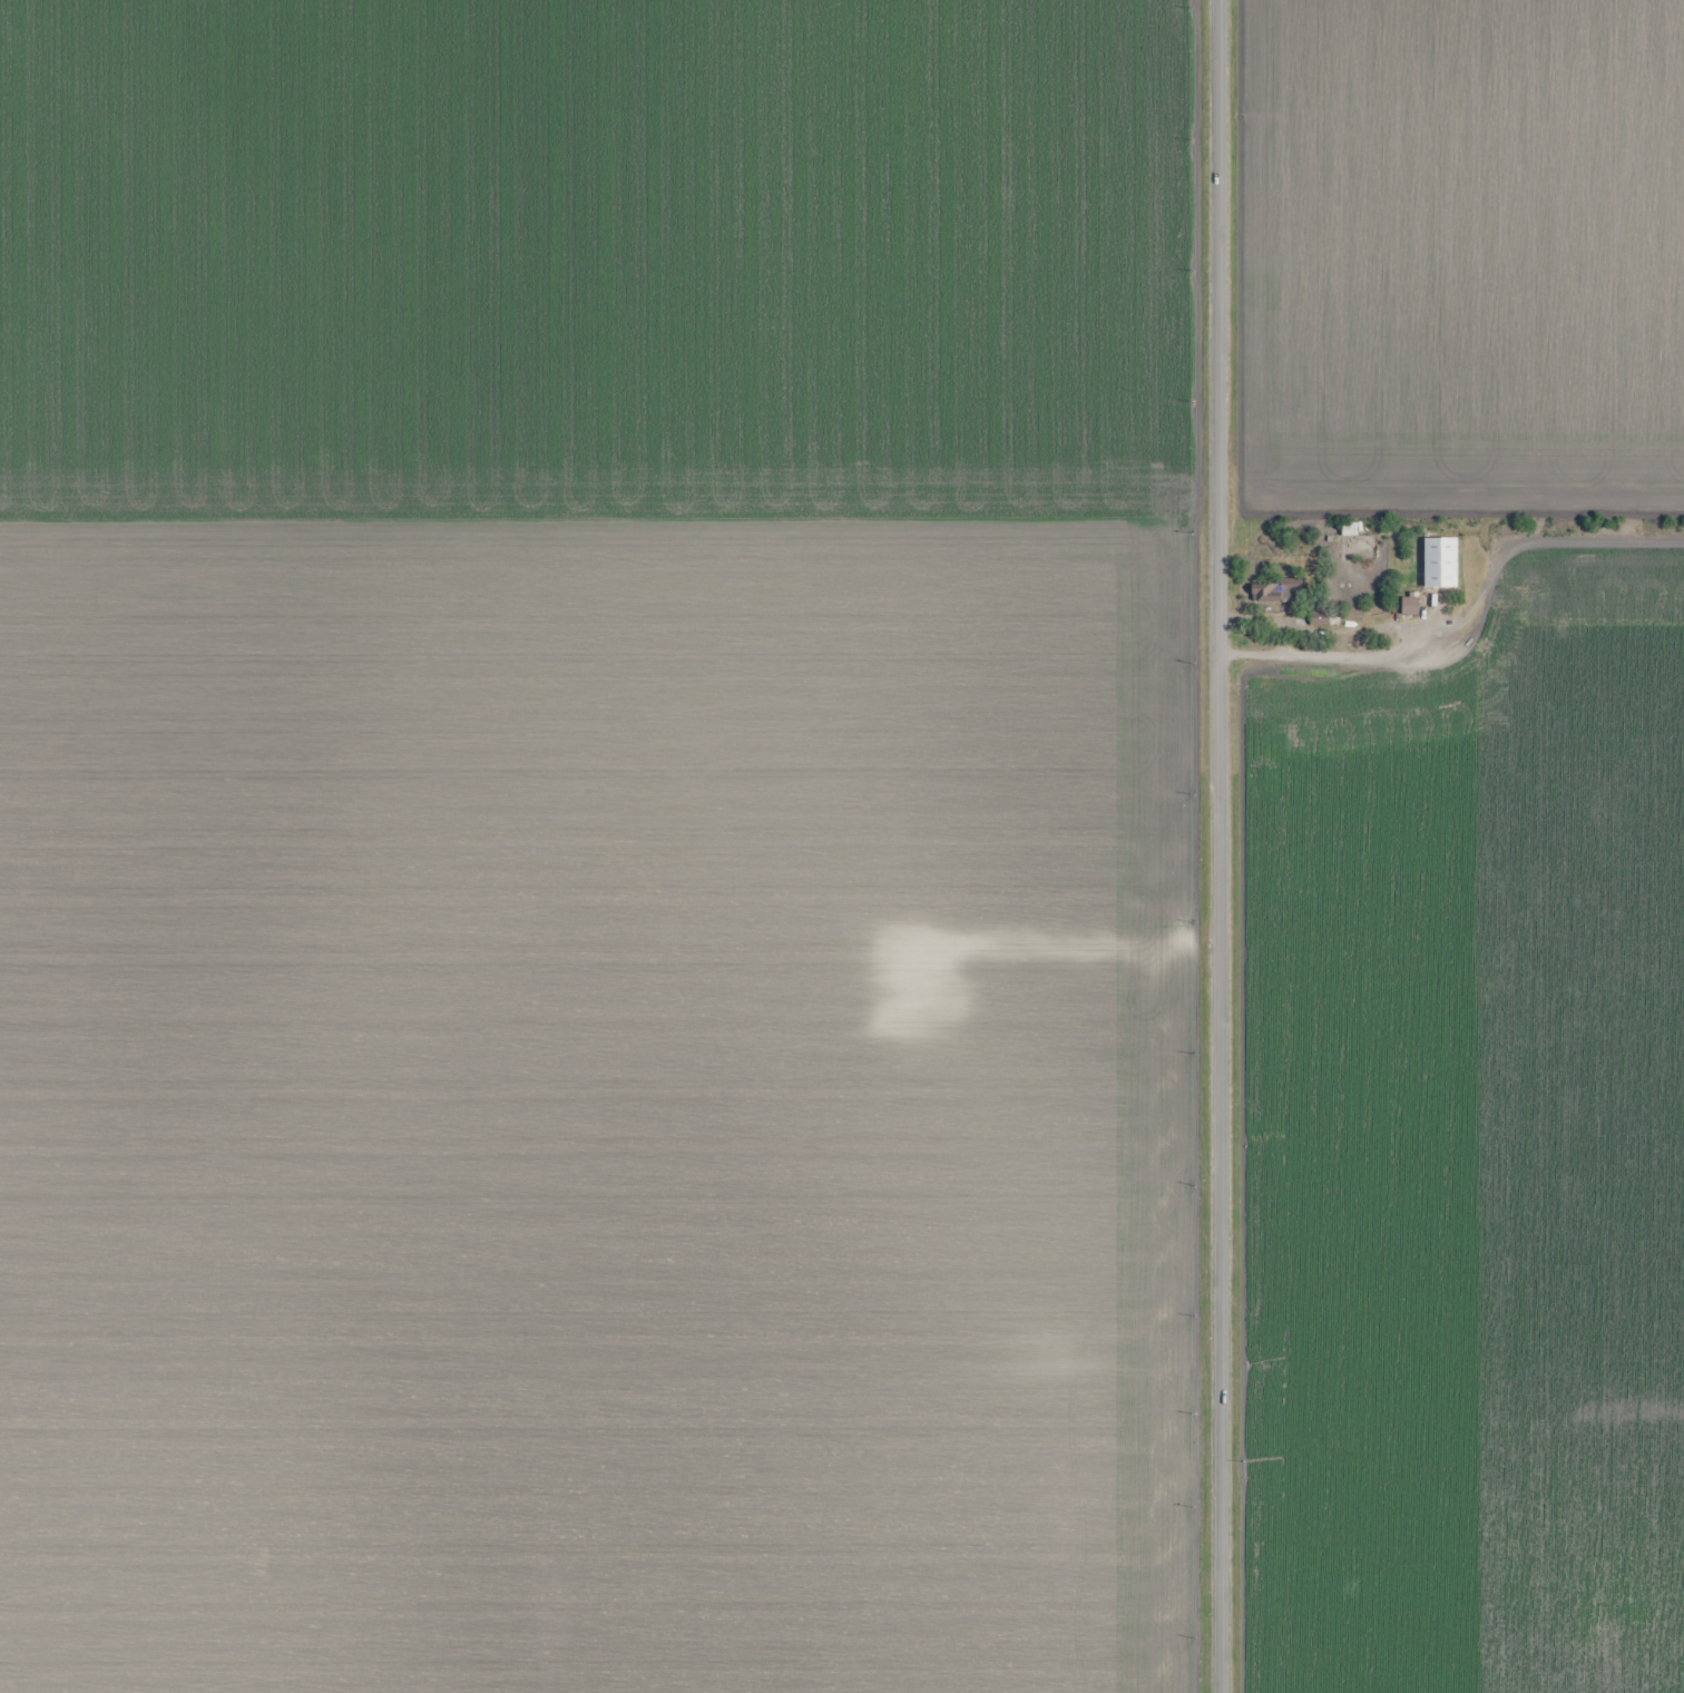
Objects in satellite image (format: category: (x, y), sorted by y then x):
building: (1350, 529)
building: (1441, 562)
building: (1273, 591)
building: (1410, 606)
building: (1324, 620)
road: (1222, 846)

